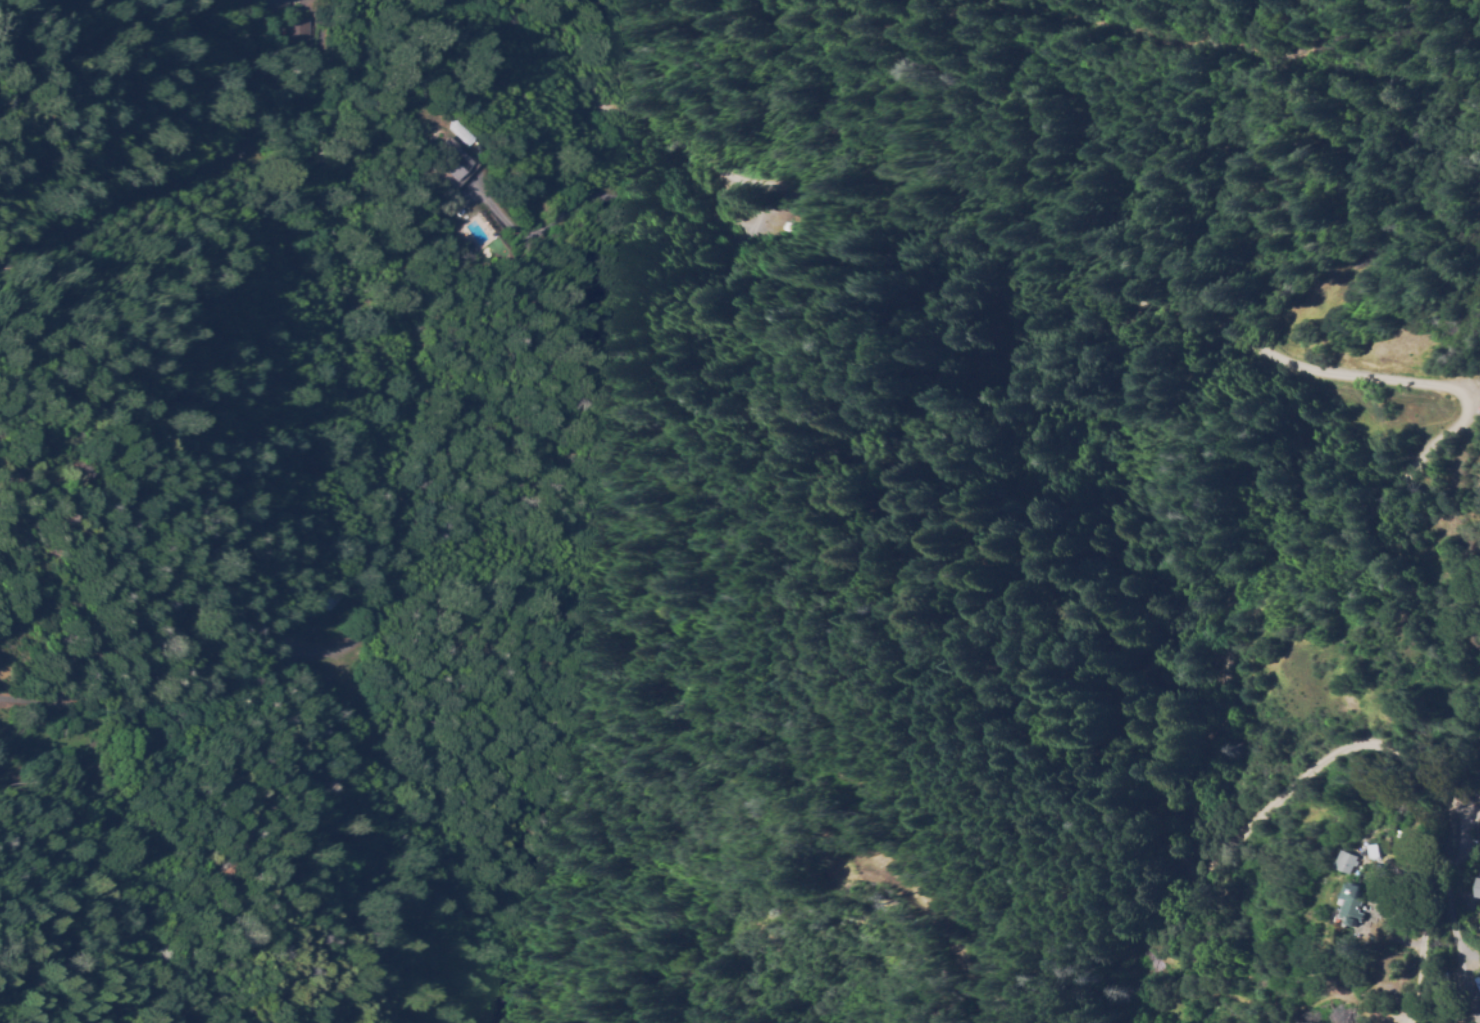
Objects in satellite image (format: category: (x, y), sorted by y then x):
building: (308, 38)
building: (449, 165)
building: (455, 177)
building: (730, 210)
building: (760, 234)
road: (978, 249)
building: (354, 598)
building: (1479, 830)
building: (1361, 851)
building: (1372, 852)
building: (1344, 862)
building: (1334, 863)
road: (1194, 868)
building: (1479, 889)
building: (1344, 904)

